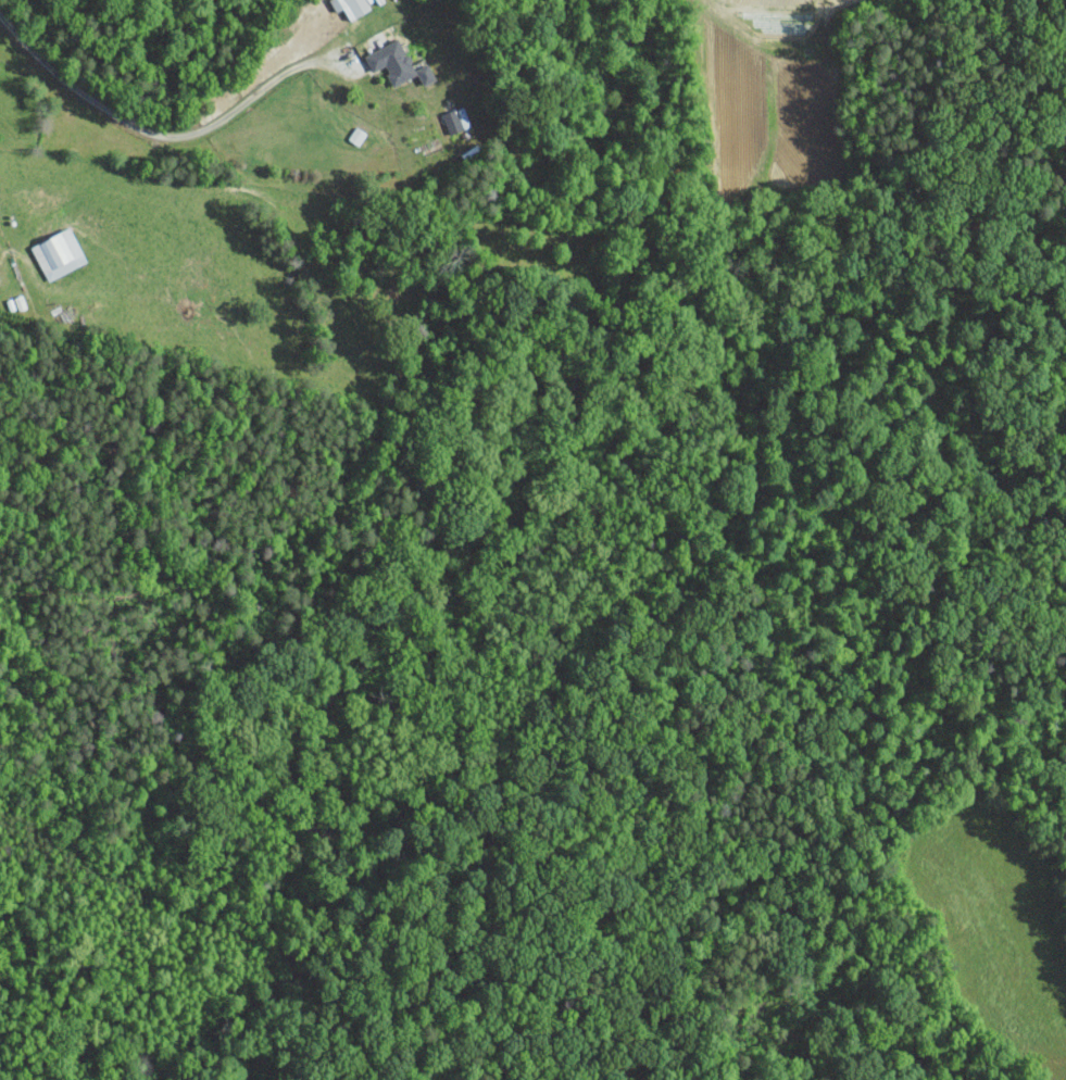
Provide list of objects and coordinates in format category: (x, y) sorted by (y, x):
building: (350, 7)
building: (391, 61)
building: (425, 74)
building: (455, 120)
road: (146, 129)
building: (58, 254)

